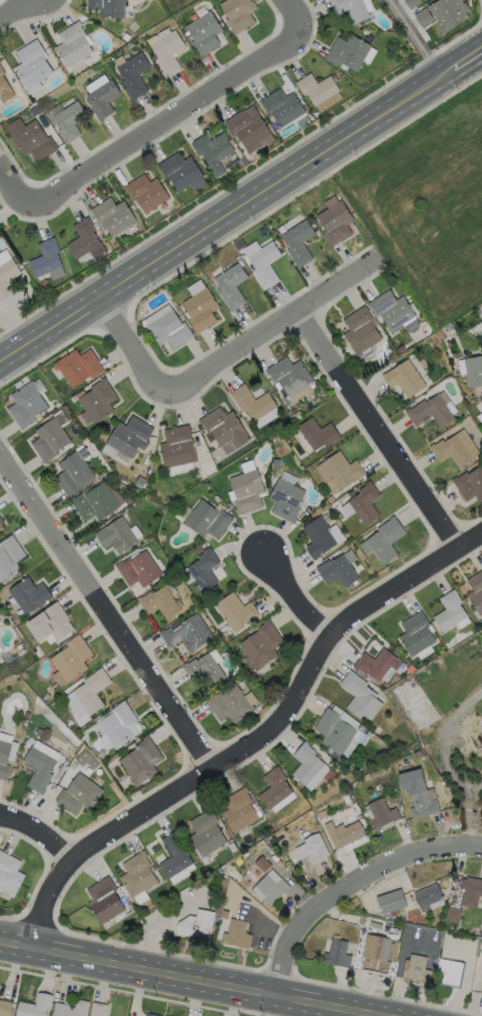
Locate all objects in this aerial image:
building: (412, 3)
building: (109, 8)
building: (351, 9)
road: (15, 10)
building: (239, 14)
road: (292, 14)
building: (450, 14)
building: (424, 18)
building: (205, 34)
road: (415, 38)
building: (74, 45)
building: (168, 52)
building: (349, 53)
road: (468, 60)
building: (0, 63)
building: (33, 64)
building: (134, 75)
building: (5, 89)
building: (317, 89)
building: (104, 99)
building: (284, 107)
building: (70, 121)
building: (248, 128)
road: (144, 133)
building: (34, 142)
building: (214, 151)
building: (181, 171)
building: (147, 193)
building: (176, 204)
road: (226, 213)
building: (114, 216)
building: (336, 224)
building: (86, 241)
building: (299, 243)
building: (47, 258)
building: (265, 265)
building: (8, 278)
building: (45, 284)
building: (232, 287)
building: (202, 310)
building: (393, 311)
building: (170, 330)
road: (273, 330)
building: (361, 331)
building: (420, 335)
road: (139, 343)
building: (79, 367)
building: (474, 372)
building: (290, 376)
building: (405, 379)
building: (18, 385)
building: (98, 401)
building: (253, 404)
building: (27, 405)
building: (481, 411)
building: (430, 412)
road: (382, 425)
building: (225, 430)
building: (319, 434)
building: (131, 437)
building: (50, 441)
building: (178, 447)
building: (456, 449)
building: (209, 469)
building: (342, 470)
building: (73, 474)
building: (273, 480)
building: (470, 485)
building: (248, 492)
building: (217, 499)
building: (331, 499)
building: (287, 500)
building: (366, 503)
building: (95, 504)
building: (230, 505)
building: (208, 520)
building: (1, 521)
building: (117, 536)
building: (320, 538)
building: (386, 540)
building: (10, 558)
building: (140, 570)
building: (205, 570)
building: (338, 572)
road: (304, 589)
building: (476, 592)
building: (30, 595)
building: (177, 597)
building: (160, 603)
building: (450, 611)
building: (236, 612)
road: (106, 614)
building: (51, 623)
building: (417, 634)
building: (185, 635)
building: (262, 645)
building: (0, 651)
building: (22, 651)
building: (0, 653)
building: (73, 659)
building: (377, 664)
building: (204, 669)
building: (25, 675)
building: (93, 692)
building: (361, 697)
building: (230, 705)
road: (293, 709)
building: (27, 715)
building: (119, 724)
building: (354, 724)
building: (338, 732)
building: (370, 734)
road: (441, 738)
building: (6, 757)
building: (142, 761)
building: (307, 764)
building: (62, 768)
building: (40, 769)
building: (275, 788)
building: (418, 794)
building: (79, 795)
building: (349, 799)
building: (240, 811)
road: (468, 812)
building: (382, 814)
building: (322, 815)
building: (344, 830)
building: (207, 834)
road: (36, 835)
building: (232, 848)
building: (274, 848)
building: (316, 849)
building: (175, 856)
building: (263, 864)
building: (10, 874)
building: (138, 875)
building: (236, 880)
road: (352, 887)
building: (272, 890)
building: (471, 892)
building: (429, 896)
building: (105, 900)
road: (54, 902)
building: (391, 902)
building: (454, 915)
building: (197, 925)
building: (237, 935)
building: (377, 948)
building: (338, 954)
road: (399, 959)
building: (417, 970)
road: (466, 970)
building: (451, 973)
road: (192, 978)
building: (481, 990)
building: (34, 1005)
building: (4, 1007)
building: (71, 1009)
building: (97, 1009)
building: (151, 1014)

